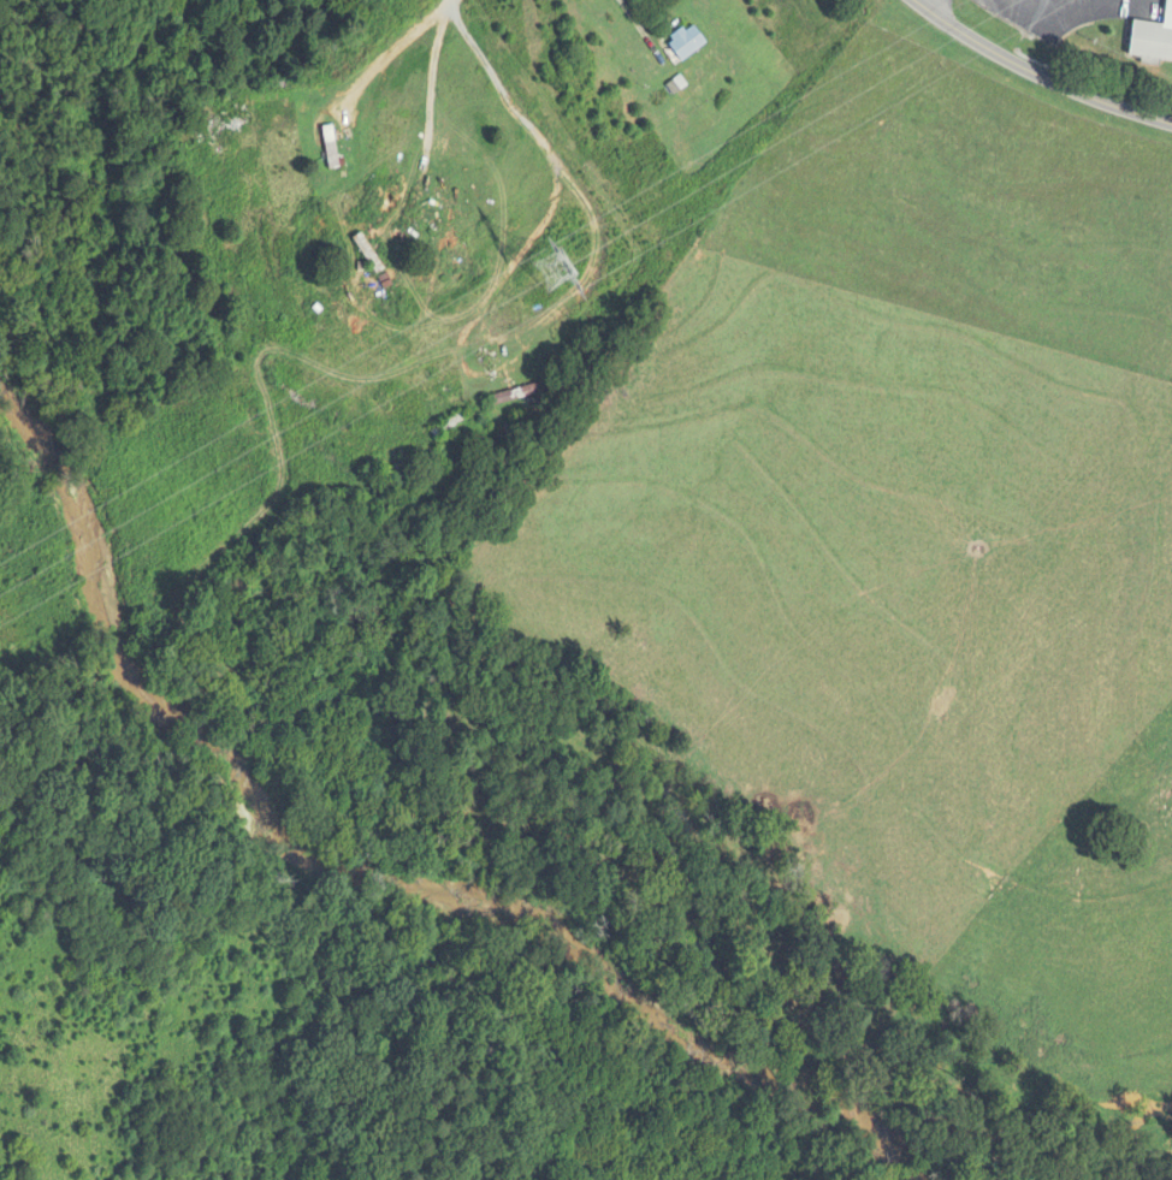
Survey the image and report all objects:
road: (923, 2)
building: (686, 42)
building: (1150, 43)
road: (392, 48)
road: (1037, 73)
road: (496, 82)
building: (328, 148)
building: (362, 247)
power tower: (554, 269)
road: (489, 374)
building: (513, 396)
building: (448, 426)
building: (517, 428)
building: (433, 458)

